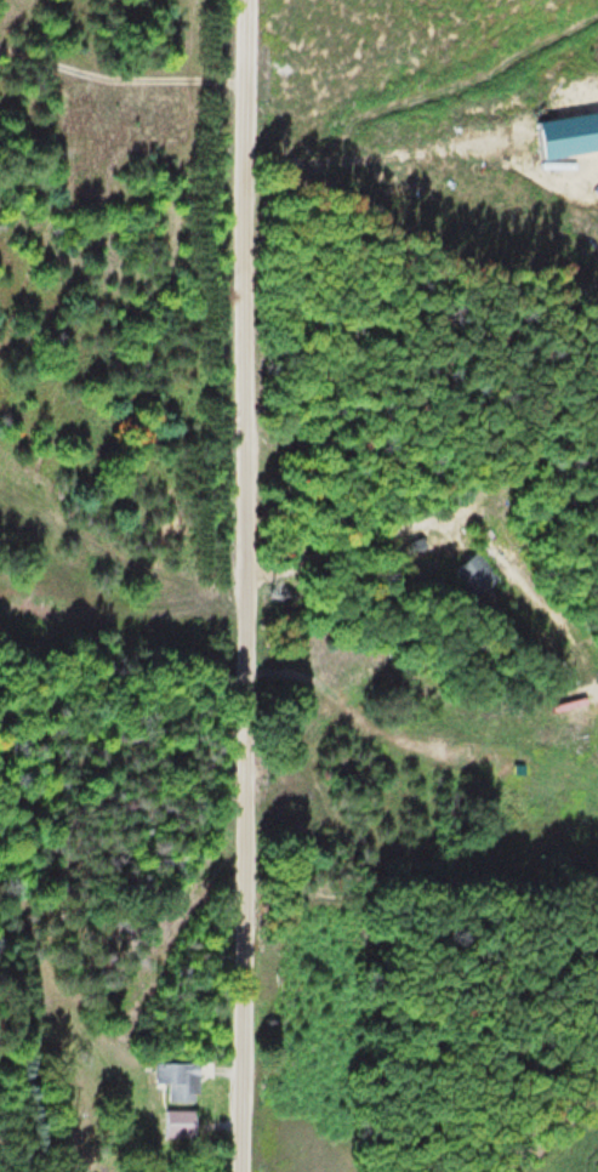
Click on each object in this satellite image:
building: (478, 575)
road: (239, 586)
building: (182, 1080)
building: (183, 1123)

